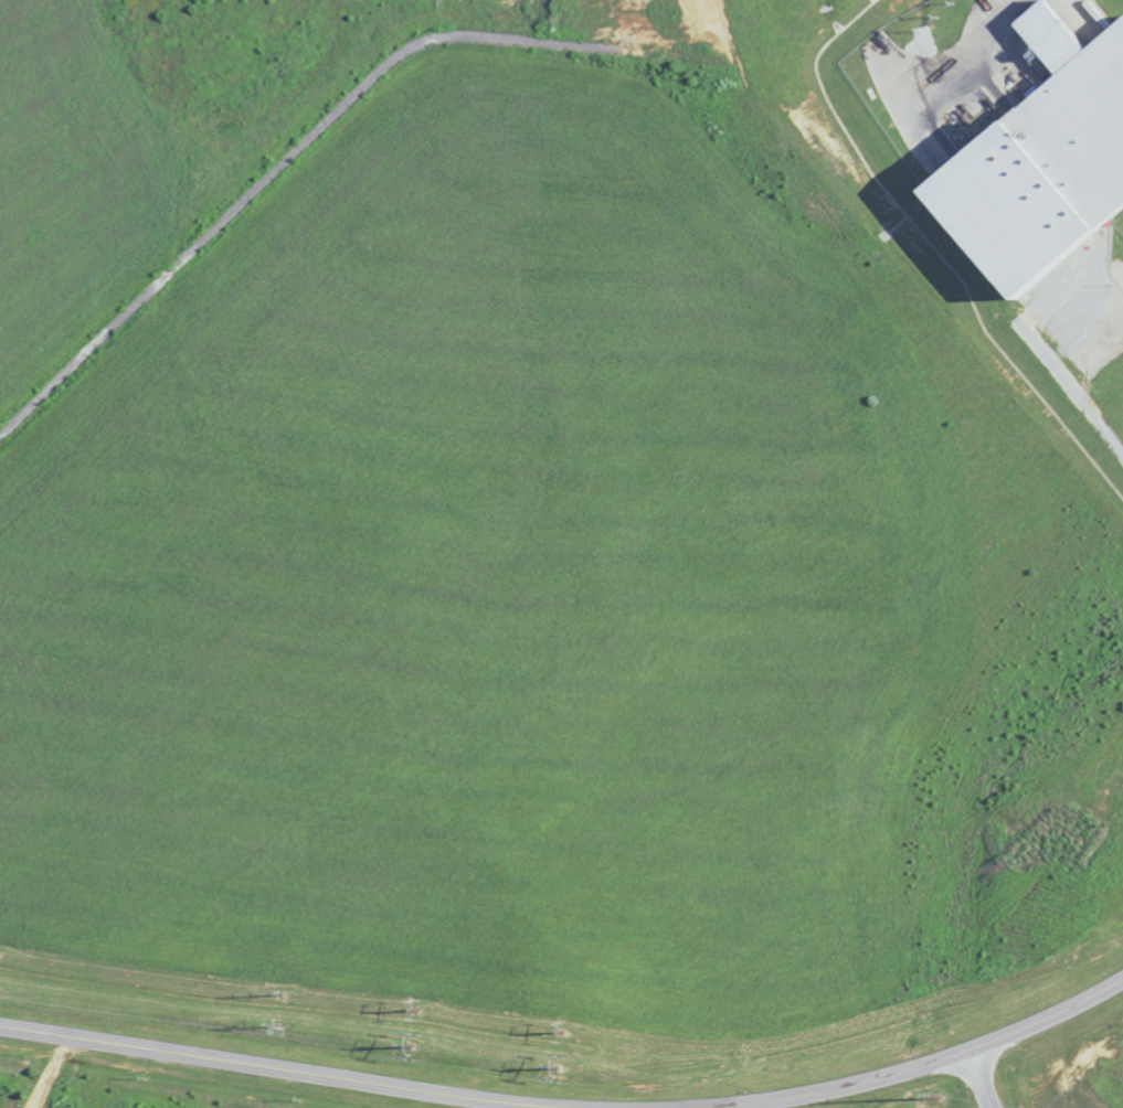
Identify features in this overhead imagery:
building: (1038, 160)
road: (1074, 392)
power tower: (276, 1010)
power tower: (409, 1024)
power tower: (559, 1048)
road: (918, 1067)
road: (267, 1068)
road: (978, 1079)
power tower: (936, 1107)

